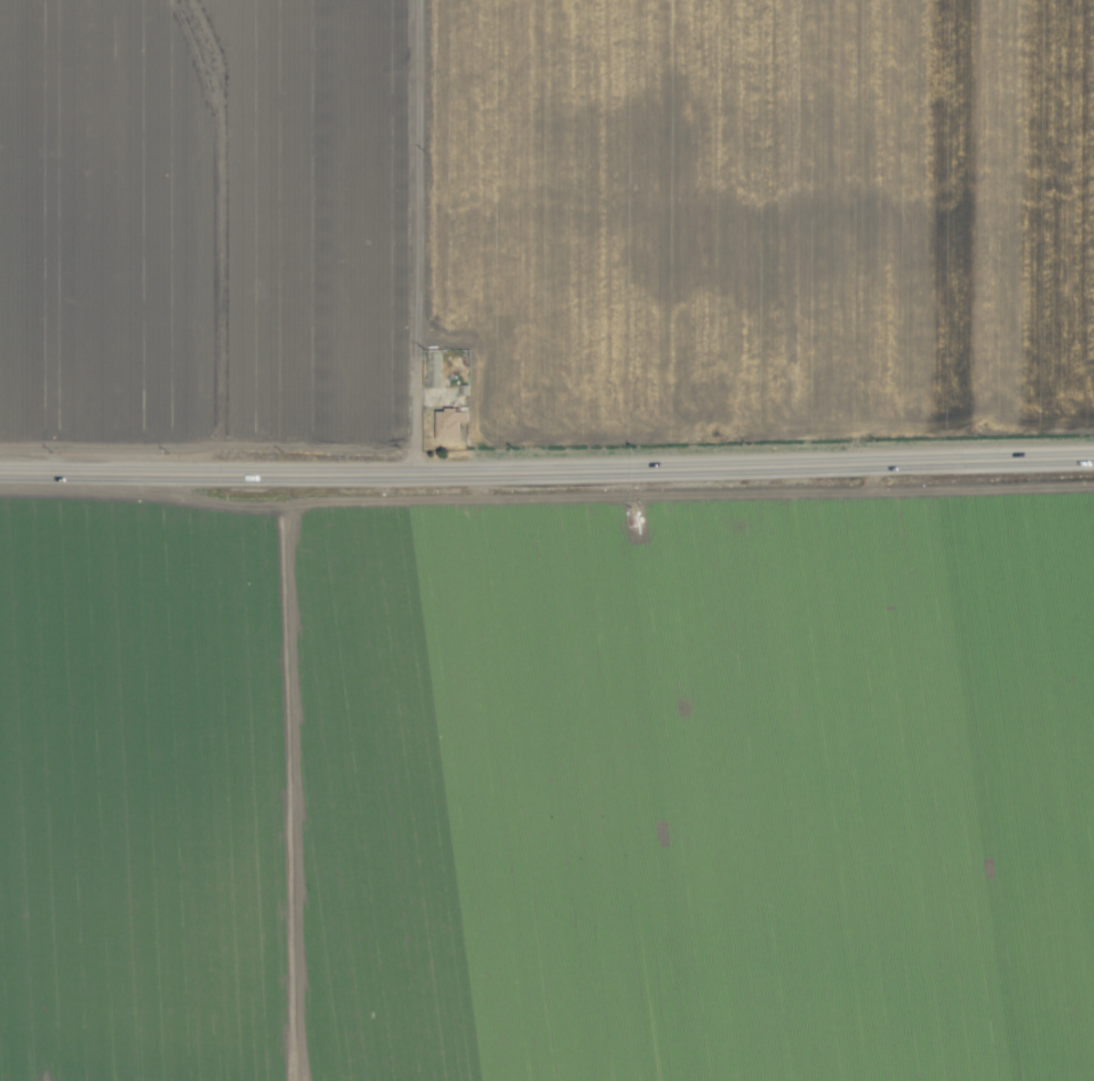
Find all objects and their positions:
road: (426, 233)
building: (433, 368)
building: (448, 422)
road: (546, 464)
crop: (546, 540)

